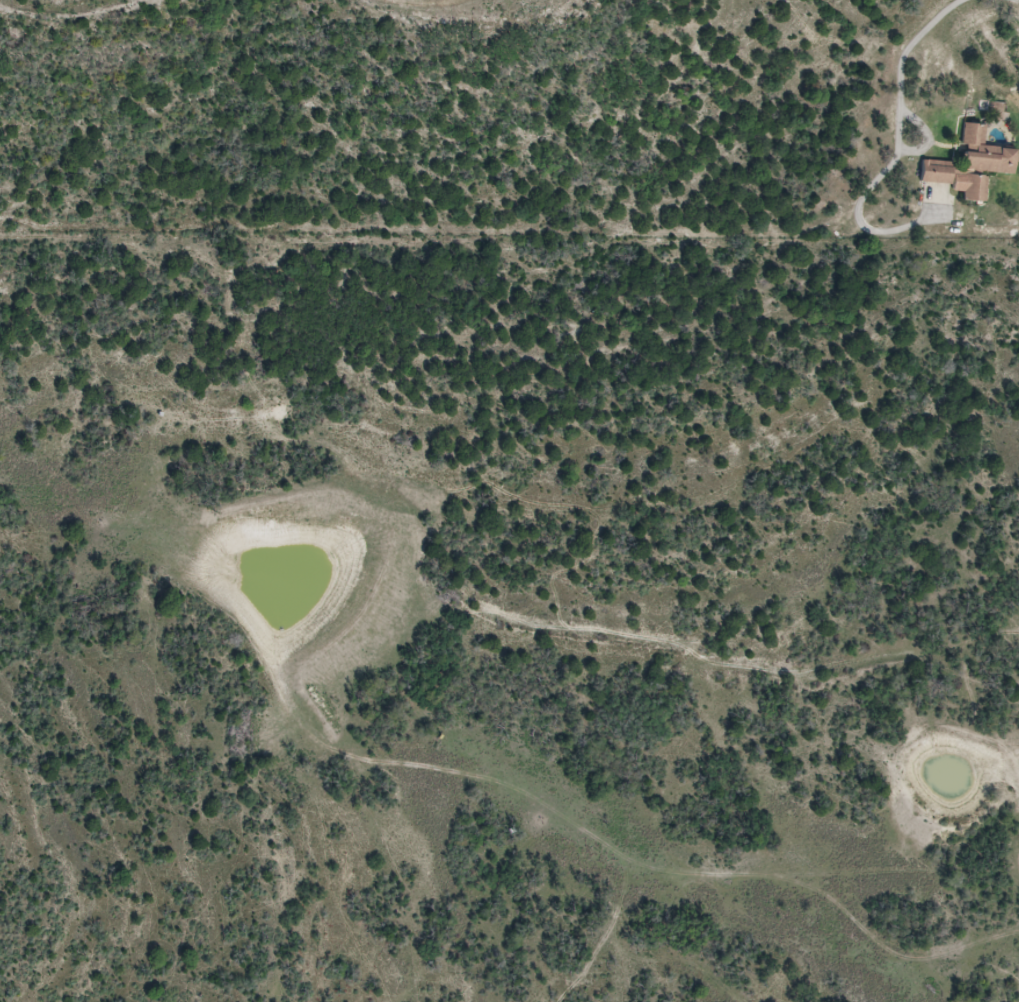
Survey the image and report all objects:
road: (913, 43)
road: (922, 151)
building: (976, 163)
road: (867, 223)

